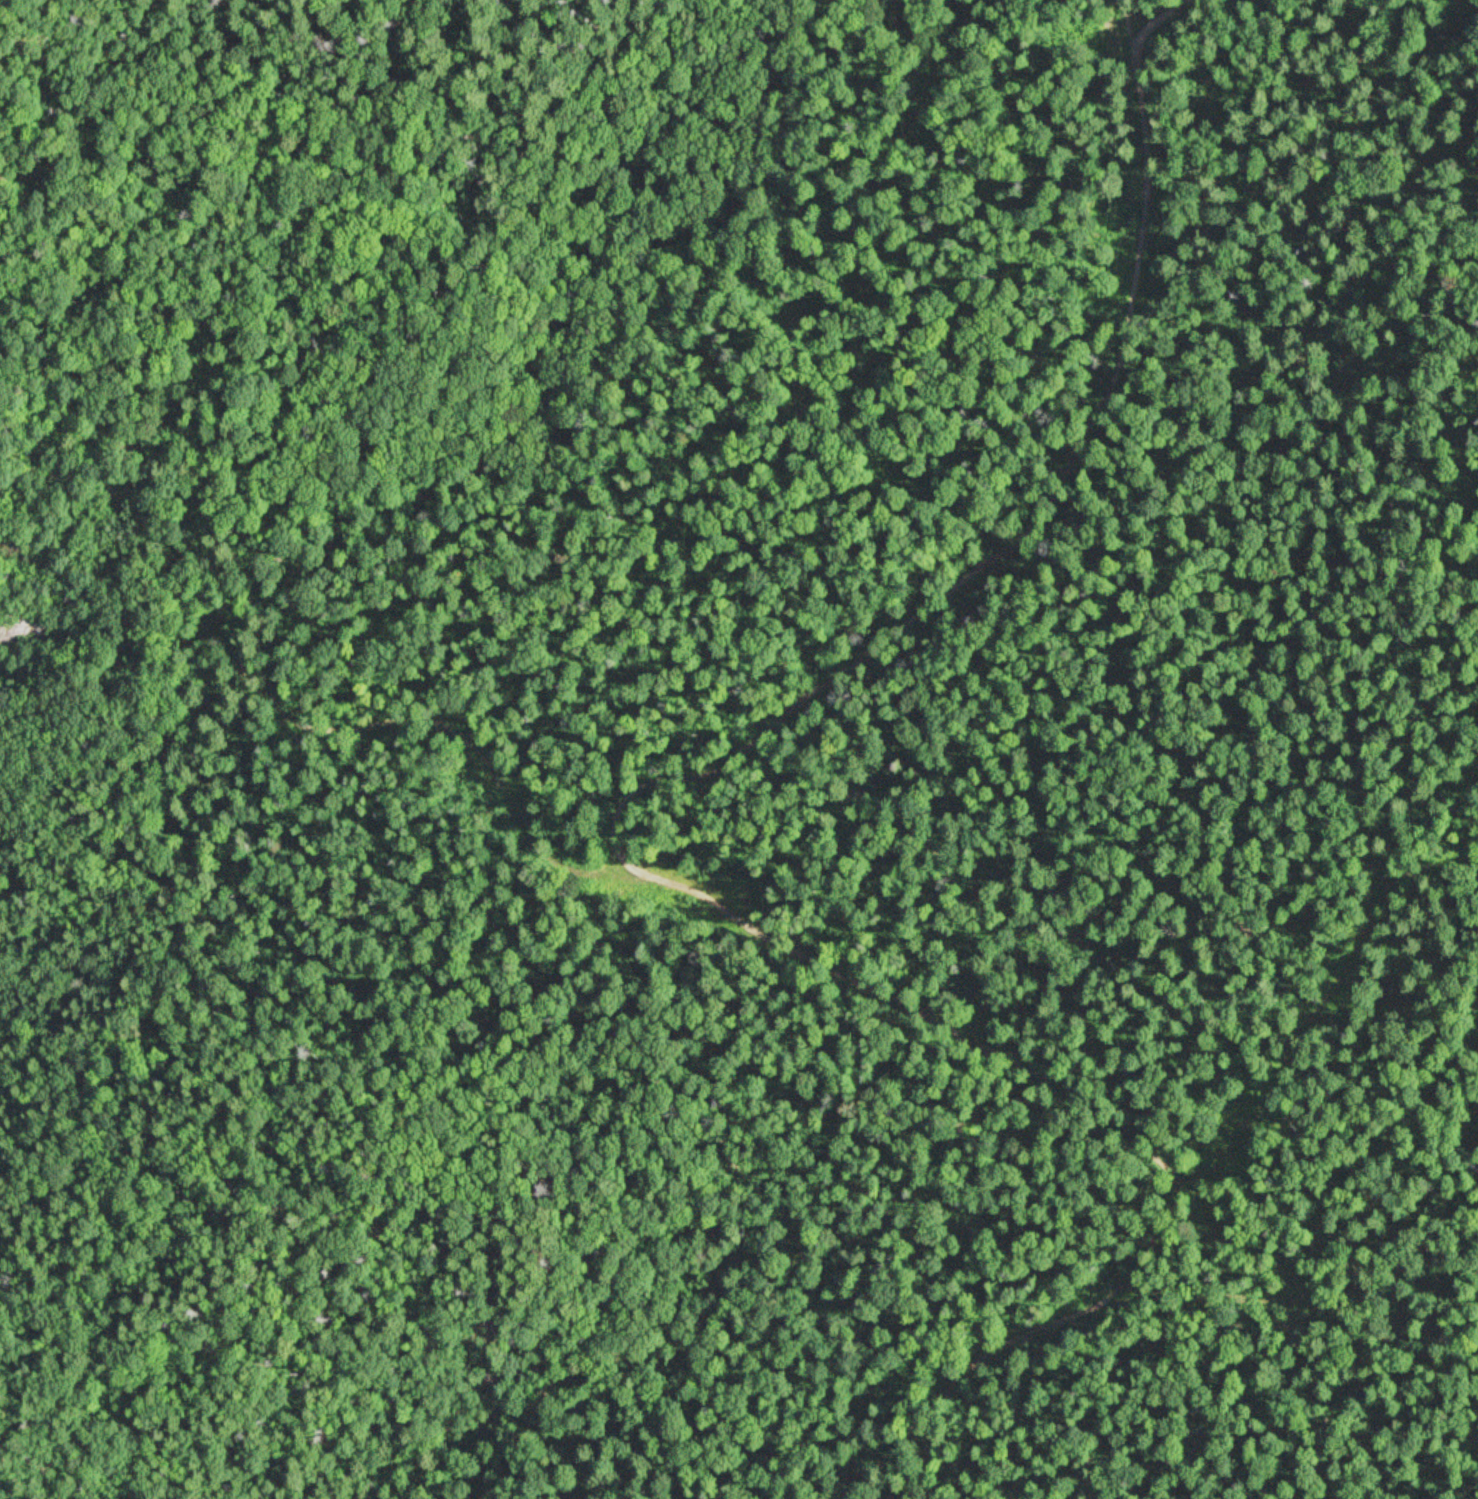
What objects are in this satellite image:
road: (1228, 16)
road: (1269, 1085)

